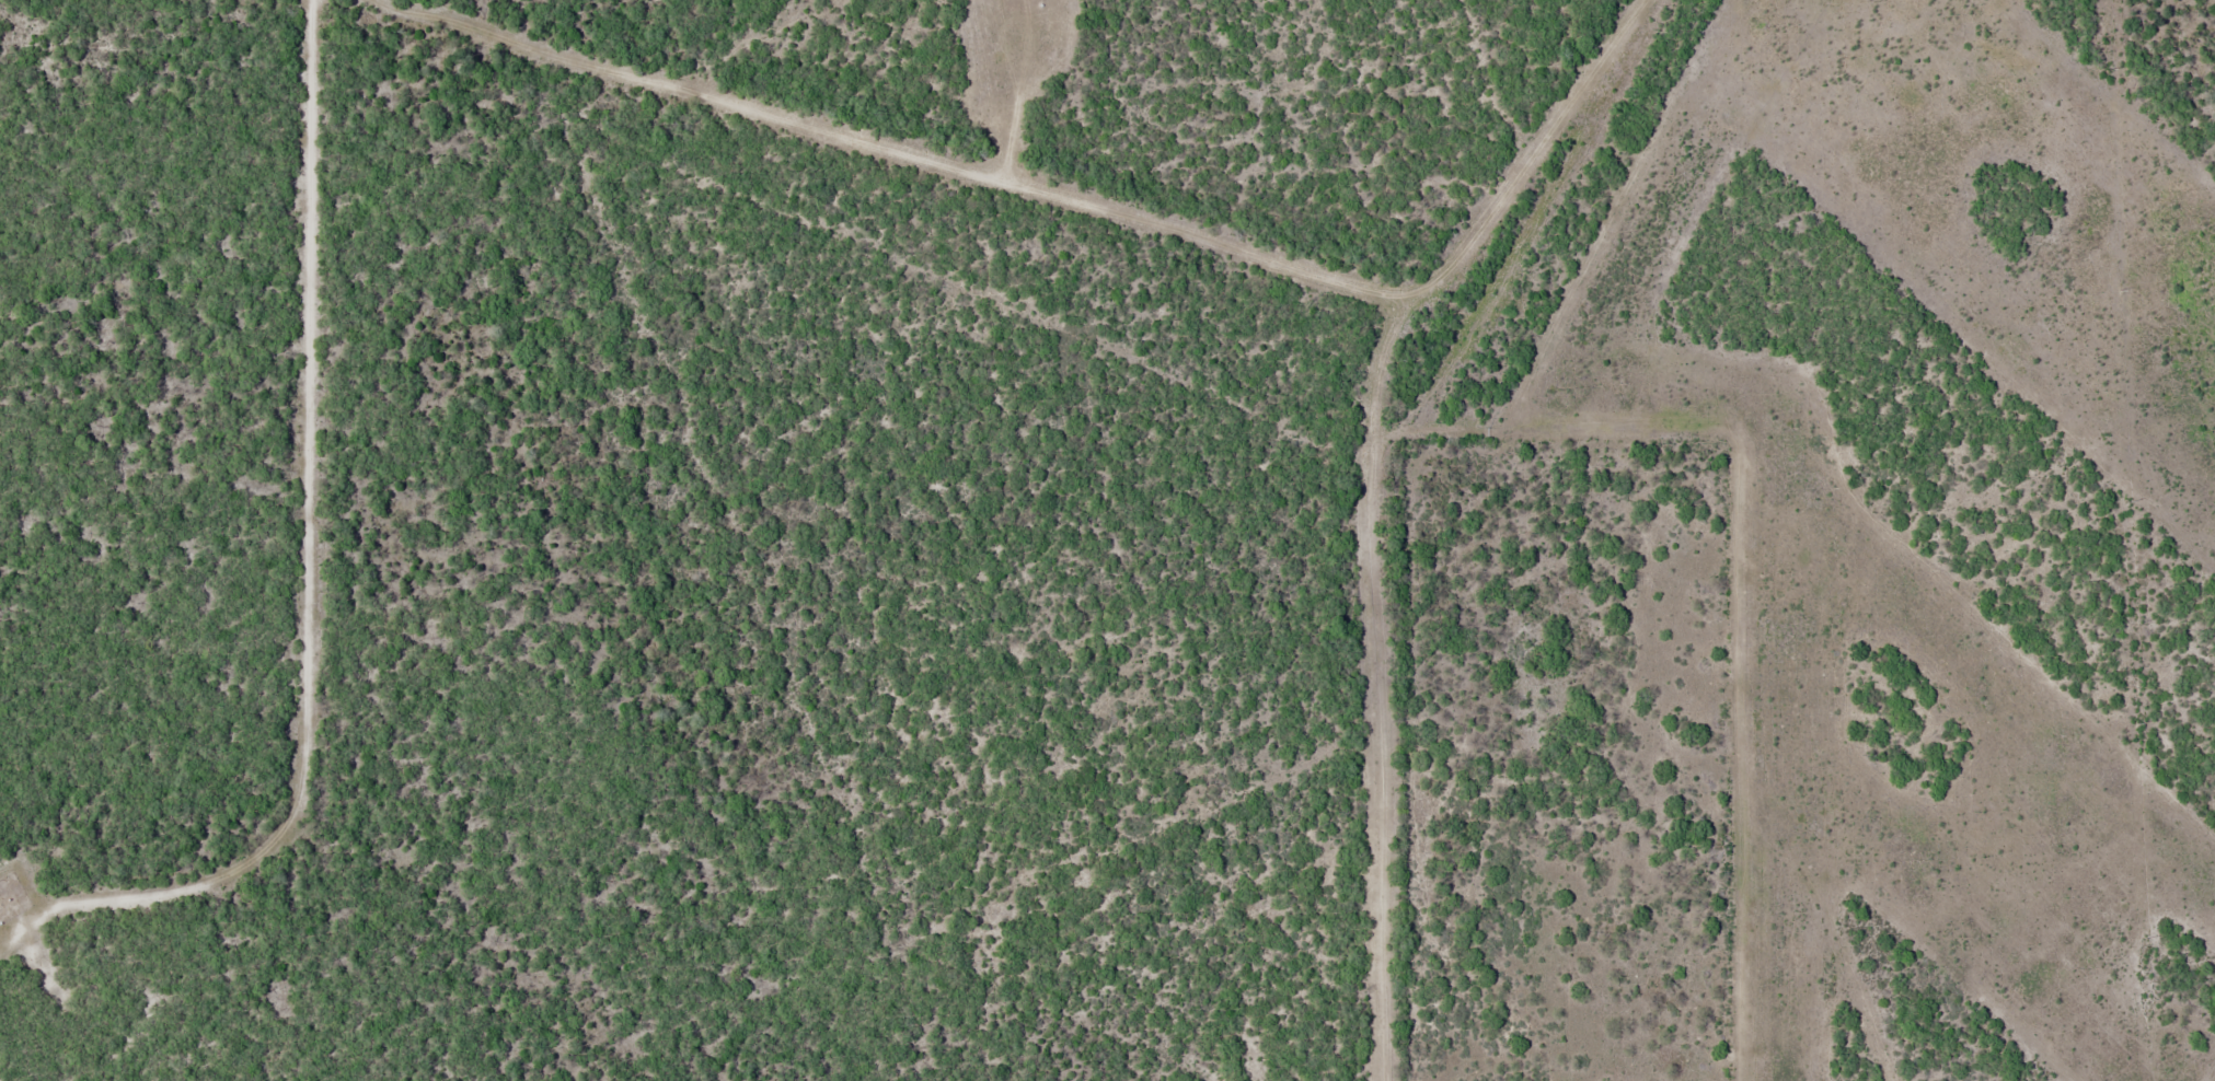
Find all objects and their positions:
road: (1566, 143)
road: (912, 152)

